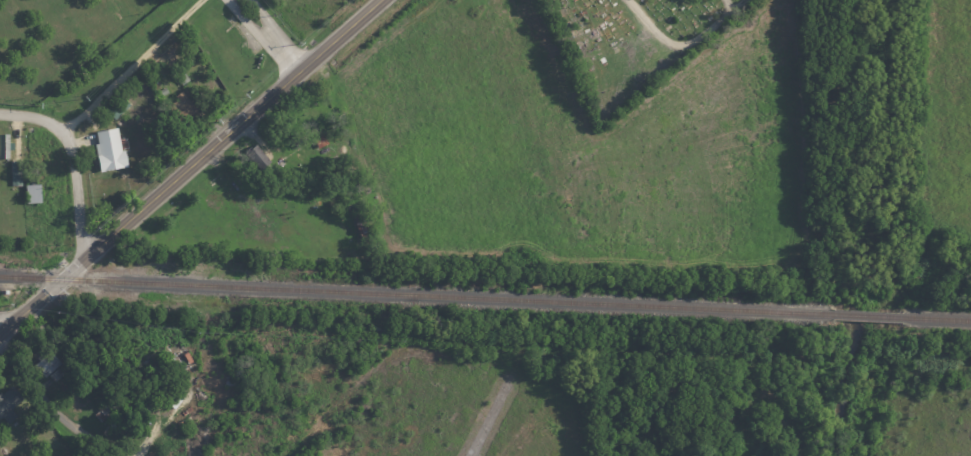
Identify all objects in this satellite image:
road: (272, 34)
park: (631, 44)
road: (137, 66)
building: (182, 77)
building: (186, 105)
building: (121, 106)
building: (6, 146)
building: (112, 150)
building: (260, 156)
road: (74, 157)
road: (192, 167)
building: (18, 172)
building: (35, 193)
building: (365, 223)
railway: (419, 294)
railway: (870, 316)
railway: (937, 319)
road: (3, 327)
building: (49, 361)
building: (59, 372)
building: (10, 403)
road: (50, 408)
building: (106, 410)

